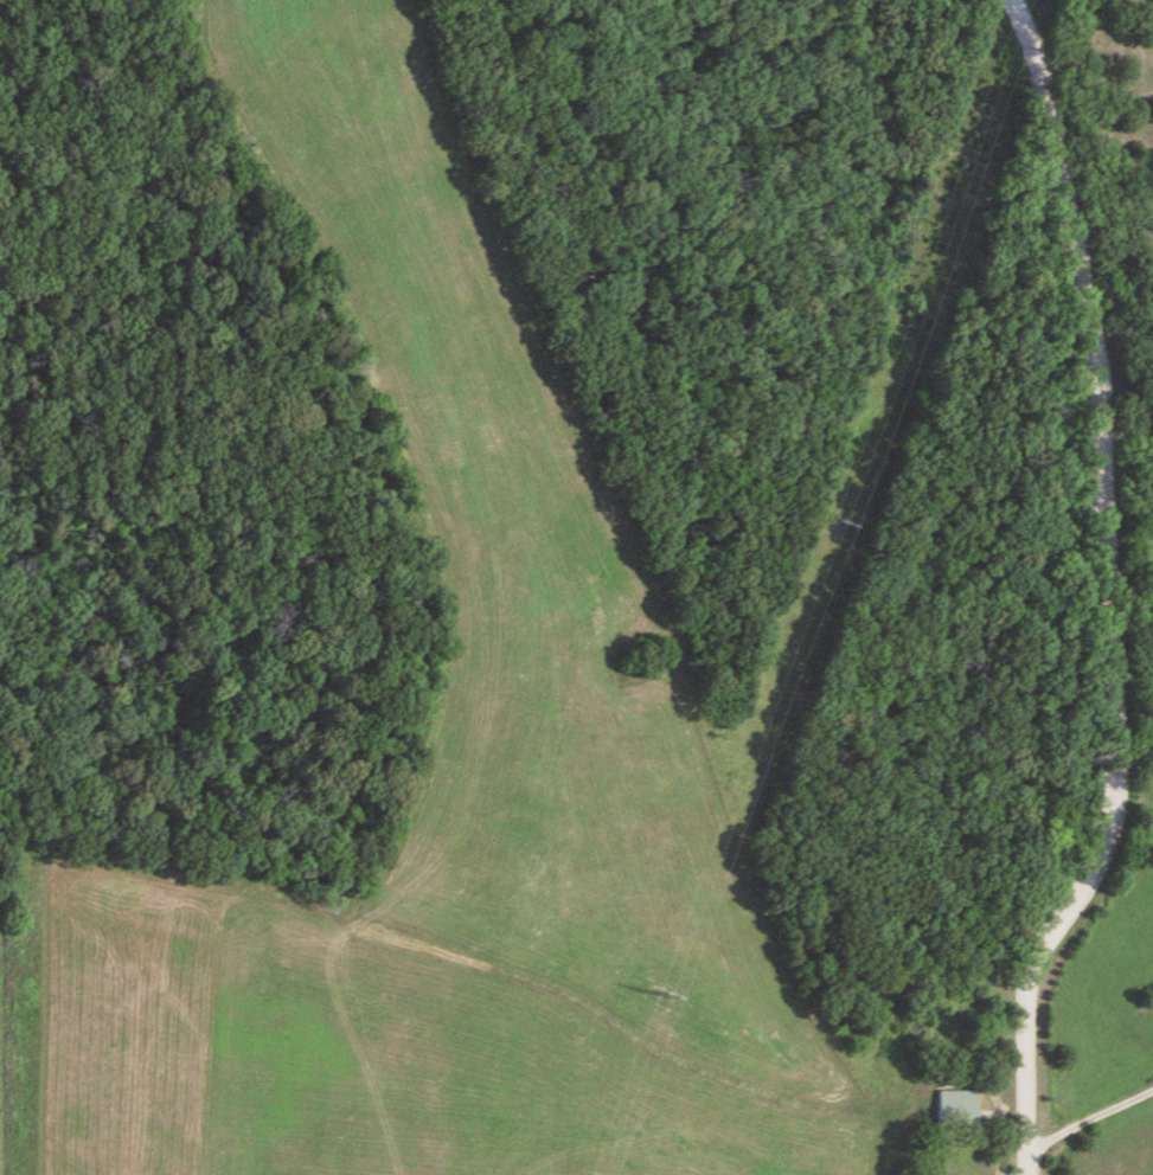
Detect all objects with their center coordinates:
power tower: (835, 524)
road: (1112, 592)
power tower: (664, 996)
building: (956, 1104)
road: (1085, 1118)

